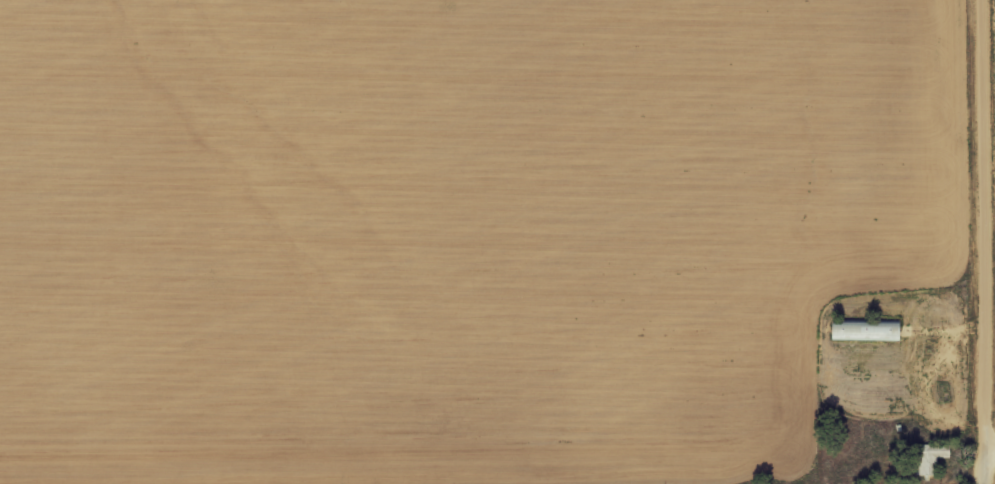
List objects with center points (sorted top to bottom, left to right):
road: (984, 241)
road: (990, 300)

